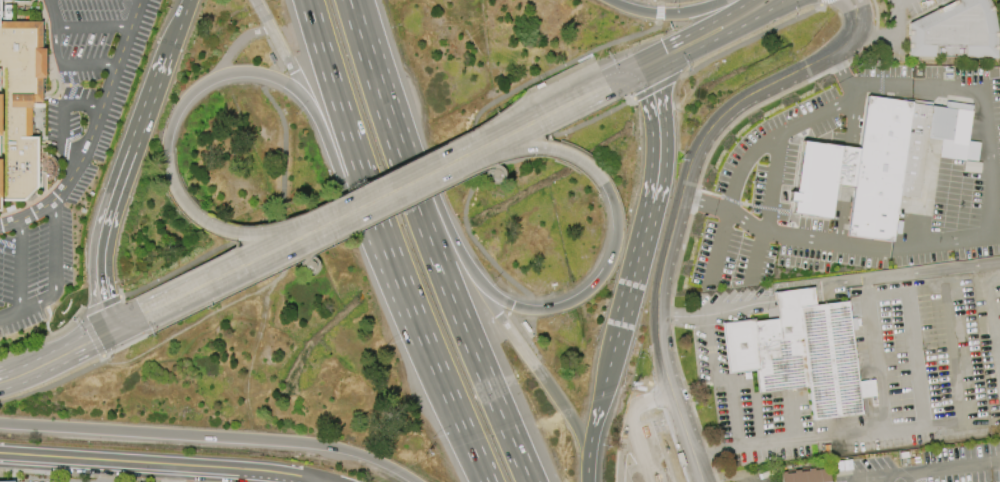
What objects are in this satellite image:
road: (666, 0)
road: (349, 2)
road: (823, 2)
road: (847, 11)
road: (773, 12)
road: (763, 13)
road: (51, 14)
road: (666, 14)
road: (860, 14)
road: (42, 16)
road: (721, 17)
road: (91, 26)
road: (176, 28)
building: (954, 31)
road: (358, 33)
road: (891, 34)
road: (42, 35)
road: (720, 35)
road: (897, 39)
road: (750, 40)
road: (49, 43)
road: (235, 47)
road: (282, 51)
road: (668, 53)
traffic signals: (666, 55)
road: (581, 56)
building: (275, 57)
road: (571, 59)
parking lot: (82, 62)
road: (82, 62)
road: (42, 63)
road: (41, 64)
road: (49, 64)
road: (68, 65)
road: (270, 66)
road: (843, 73)
road: (69, 75)
road: (219, 75)
road: (265, 76)
road: (623, 76)
traffic signals: (608, 84)
road: (58, 86)
road: (656, 86)
road: (70, 91)
road: (48, 92)
traffic signals: (652, 93)
road: (982, 93)
road: (59, 100)
road: (104, 101)
building: (18, 106)
road: (61, 113)
road: (538, 117)
road: (592, 119)
road: (658, 135)
road: (283, 147)
road: (543, 148)
road: (931, 151)
road: (357, 156)
road: (746, 156)
road: (694, 158)
building: (892, 160)
road: (505, 163)
road: (420, 165)
road: (487, 165)
road: (847, 166)
building: (821, 176)
road: (498, 177)
road: (772, 180)
road: (52, 185)
road: (395, 189)
road: (115, 190)
road: (924, 201)
building: (0, 207)
road: (355, 209)
road: (29, 214)
road: (219, 229)
road: (340, 236)
road: (838, 240)
road: (54, 242)
road: (9, 244)
road: (483, 247)
road: (758, 254)
parking lot: (35, 259)
road: (19, 264)
road: (175, 271)
road: (230, 271)
road: (308, 271)
road: (309, 271)
road: (905, 271)
road: (443, 274)
road: (632, 277)
road: (864, 284)
road: (51, 295)
road: (580, 295)
road: (794, 296)
road: (31, 306)
road: (99, 306)
road: (715, 309)
road: (9, 314)
road: (48, 317)
road: (197, 325)
traffic signals: (115, 328)
road: (912, 330)
road: (91, 335)
road: (42, 337)
road: (127, 344)
road: (77, 347)
building: (799, 352)
road: (998, 352)
road: (254, 357)
road: (533, 364)
road: (667, 379)
road: (6, 380)
road: (52, 382)
road: (734, 392)
road: (450, 396)
road: (643, 402)
road: (598, 405)
road: (759, 416)
road: (212, 436)
road: (686, 437)
road: (792, 438)
road: (621, 448)
road: (640, 453)
parking lot: (647, 456)
road: (161, 464)
road: (948, 466)
road: (587, 472)
road: (172, 473)
road: (731, 474)
road: (86, 475)
building: (805, 475)
road: (871, 475)
road: (896, 477)
building: (6, 481)
road: (322, 481)
road: (324, 481)

